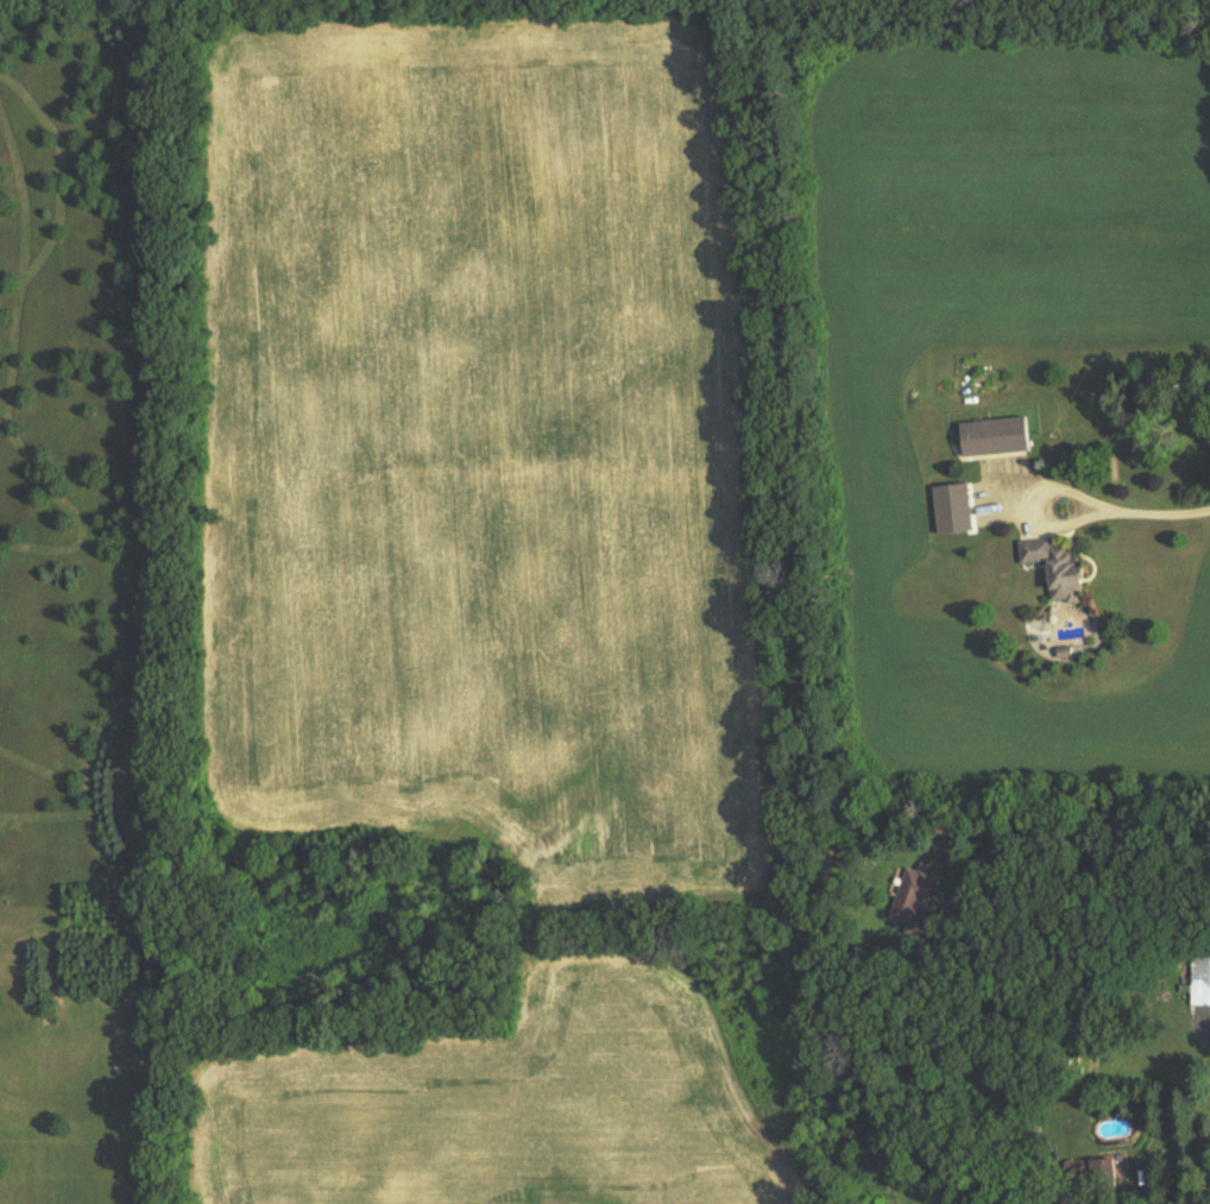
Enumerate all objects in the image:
building: (996, 436)
road: (1041, 505)
road: (1158, 512)
building: (1057, 567)
road: (1055, 830)
building: (913, 896)
building: (1200, 979)
building: (1107, 1174)

